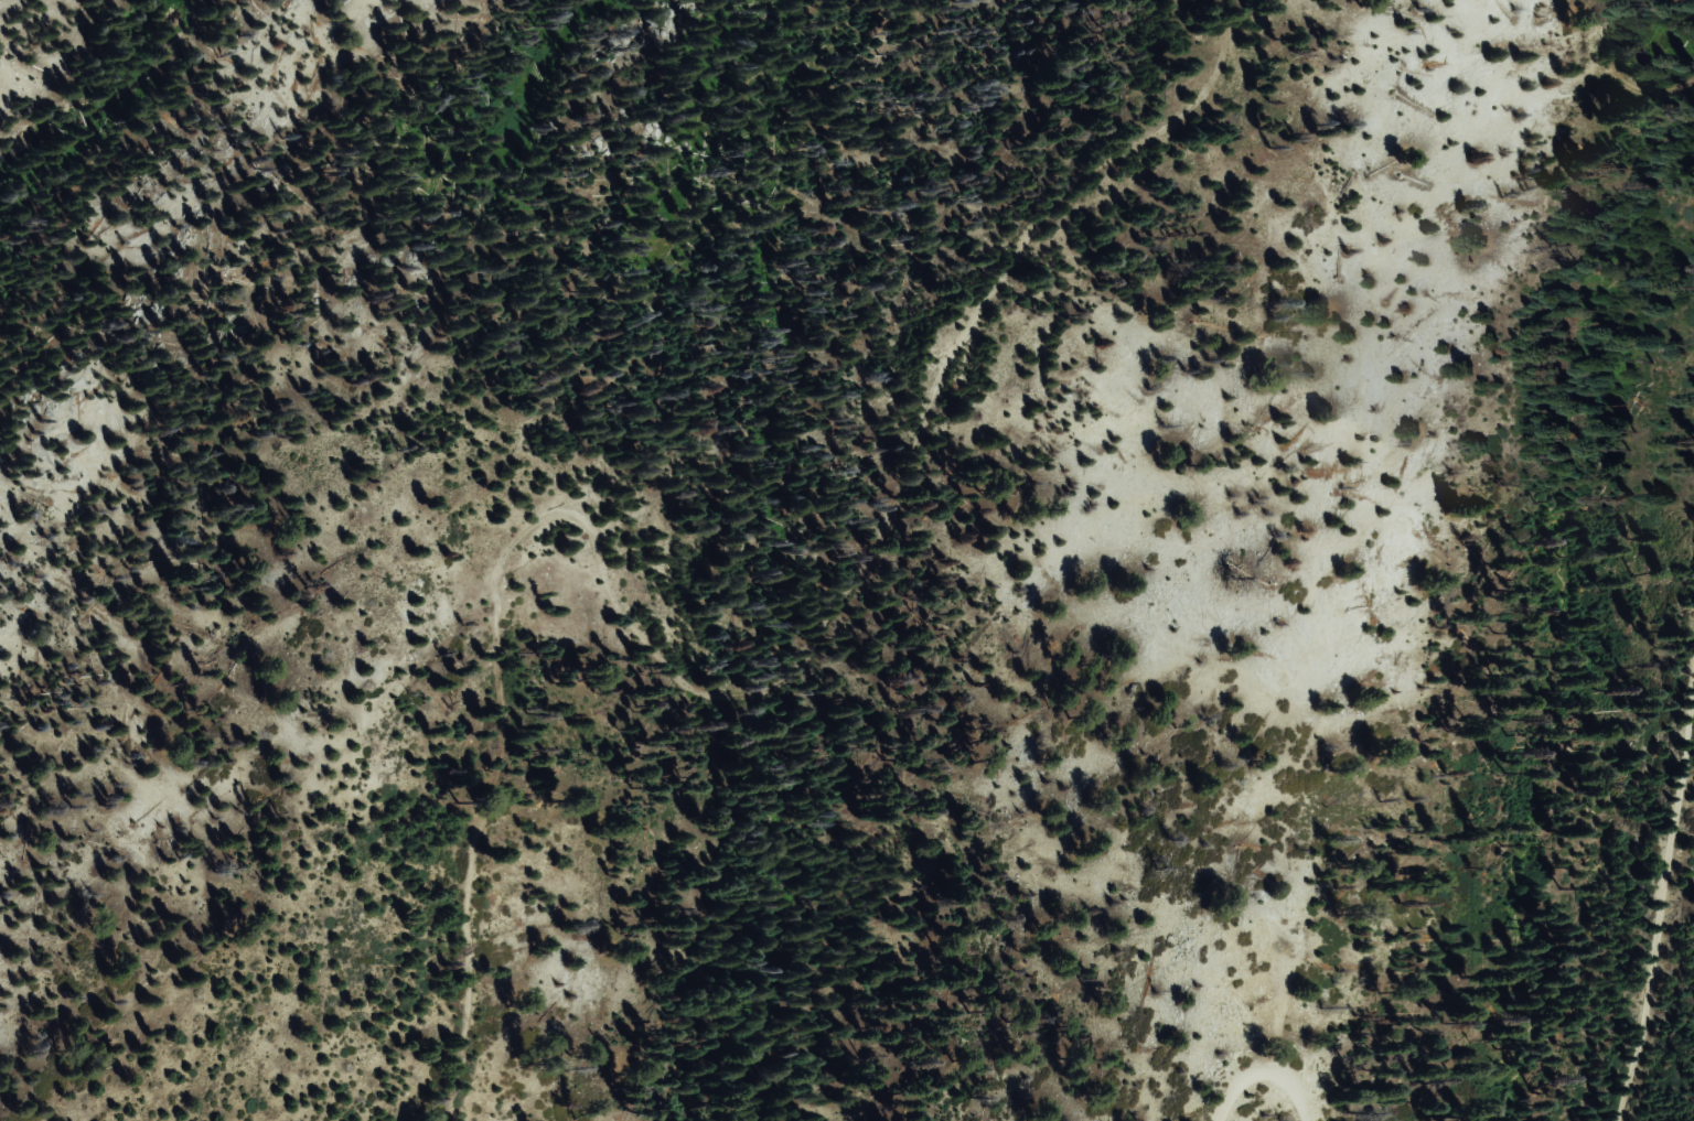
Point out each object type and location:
road: (40, 69)
road: (1617, 80)
road: (737, 716)
road: (1664, 888)
road: (1259, 1069)

